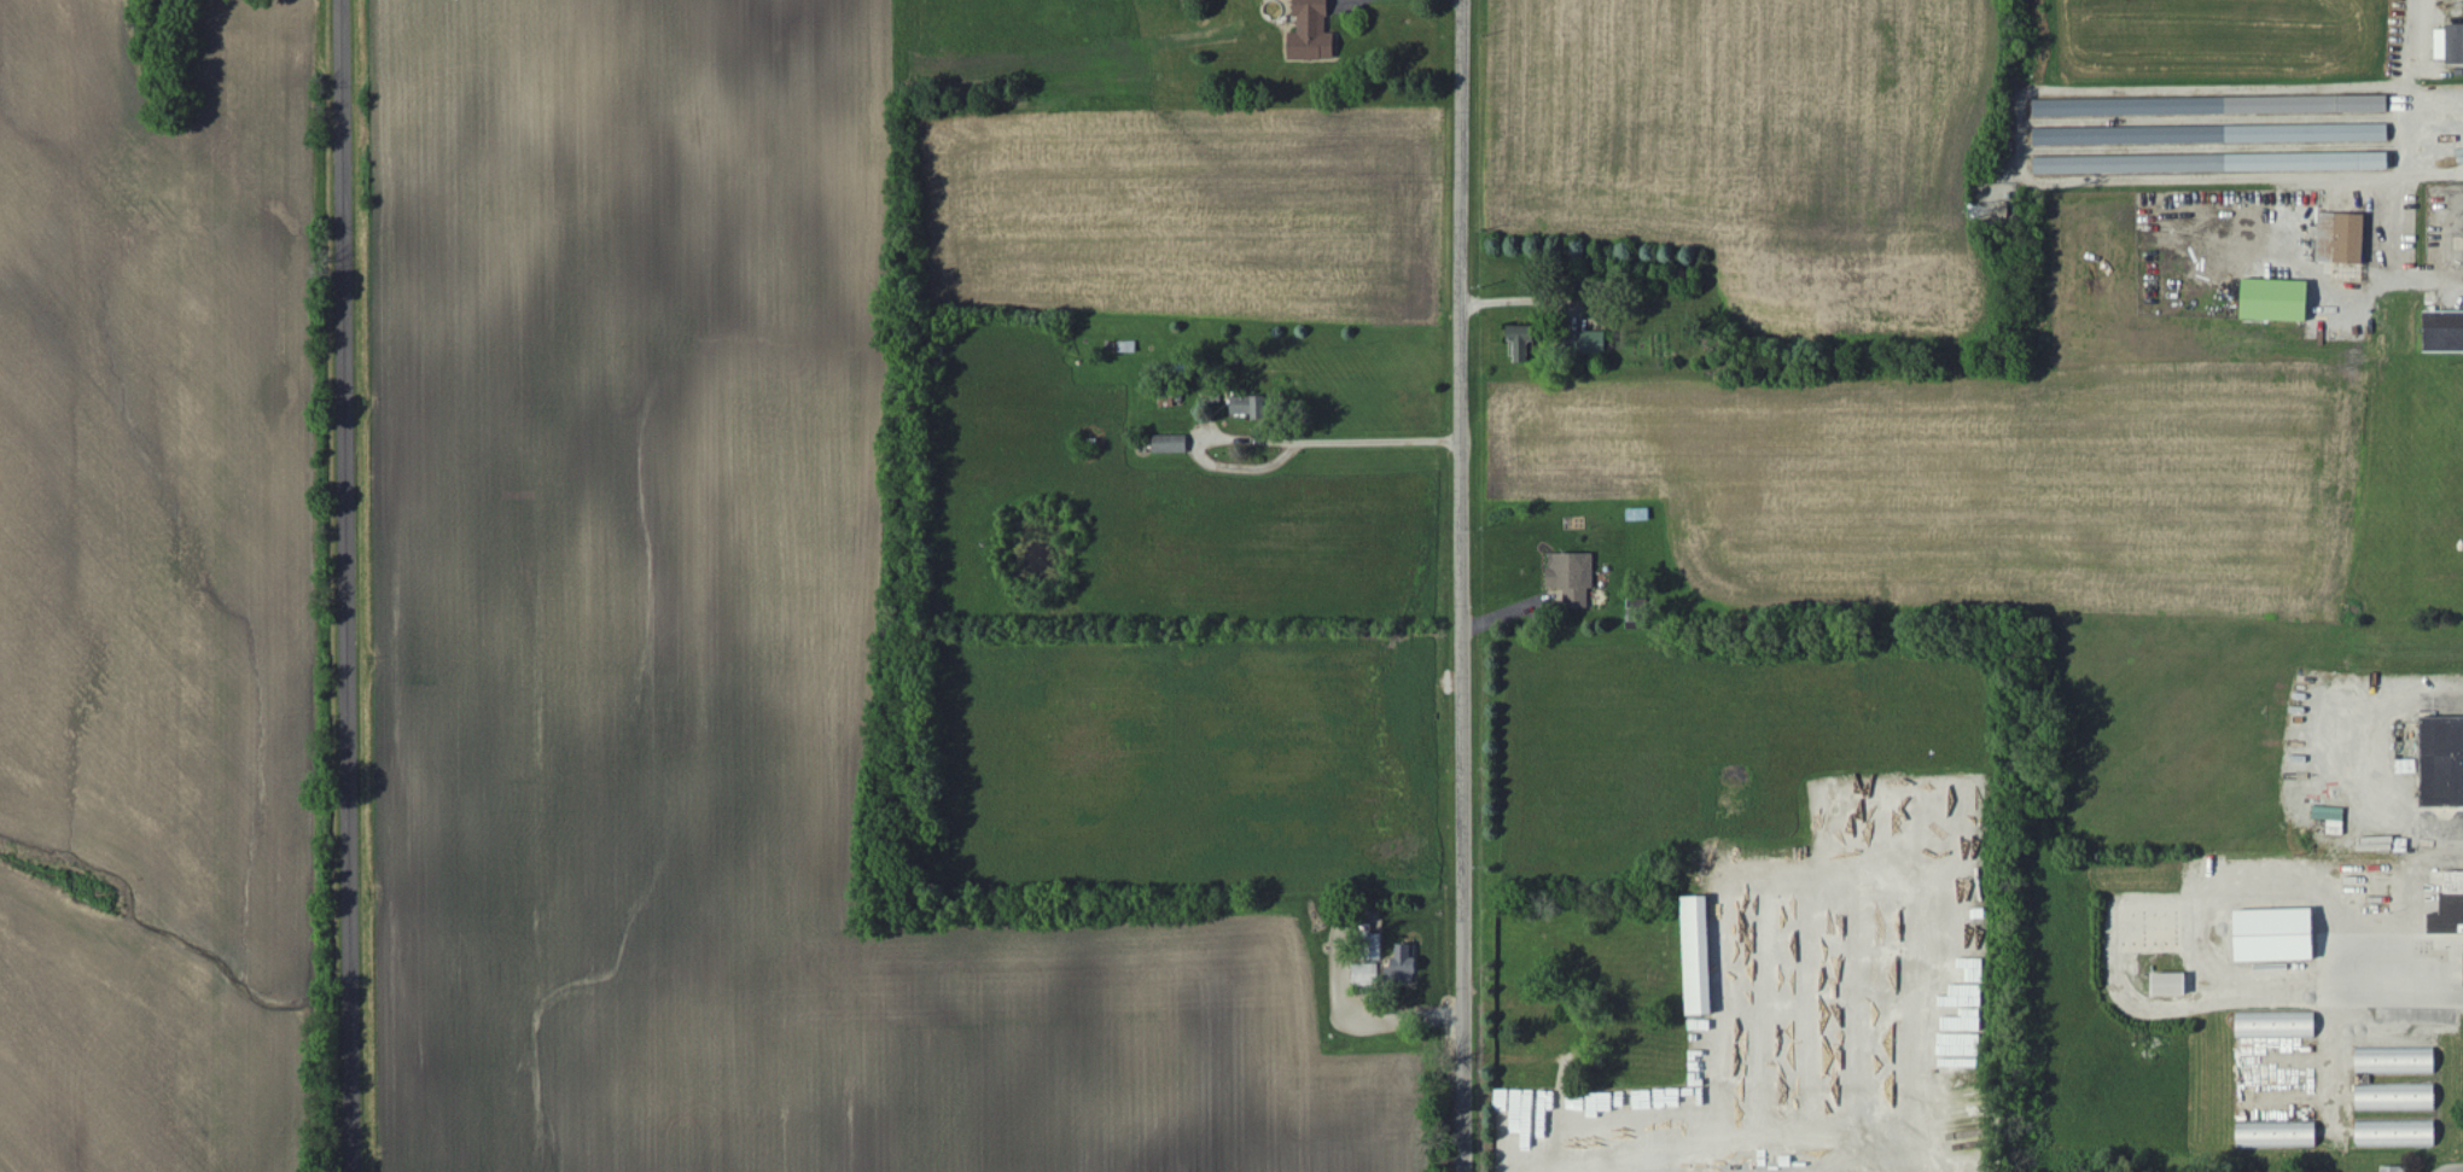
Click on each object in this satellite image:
building: (1312, 33)
building: (2450, 45)
building: (2365, 105)
building: (2187, 106)
building: (2213, 135)
building: (2213, 164)
road: (2395, 175)
building: (2342, 239)
road: (2435, 243)
building: (2277, 301)
building: (2442, 333)
building: (1524, 344)
building: (1588, 344)
building: (1251, 408)
road: (1333, 443)
building: (1171, 444)
building: (1573, 578)
road: (348, 585)
road: (1461, 585)
road: (2363, 750)
building: (2442, 764)
building: (2450, 910)
building: (2278, 937)
building: (1700, 957)
building: (1404, 967)
building: (1367, 975)
building: (2172, 986)
building: (2277, 1026)
road: (2447, 1042)
building: (2397, 1061)
building: (2397, 1098)
building: (1506, 1102)
road: (1755, 1131)
building: (2398, 1133)
building: (2278, 1135)
building: (2394, 1170)

